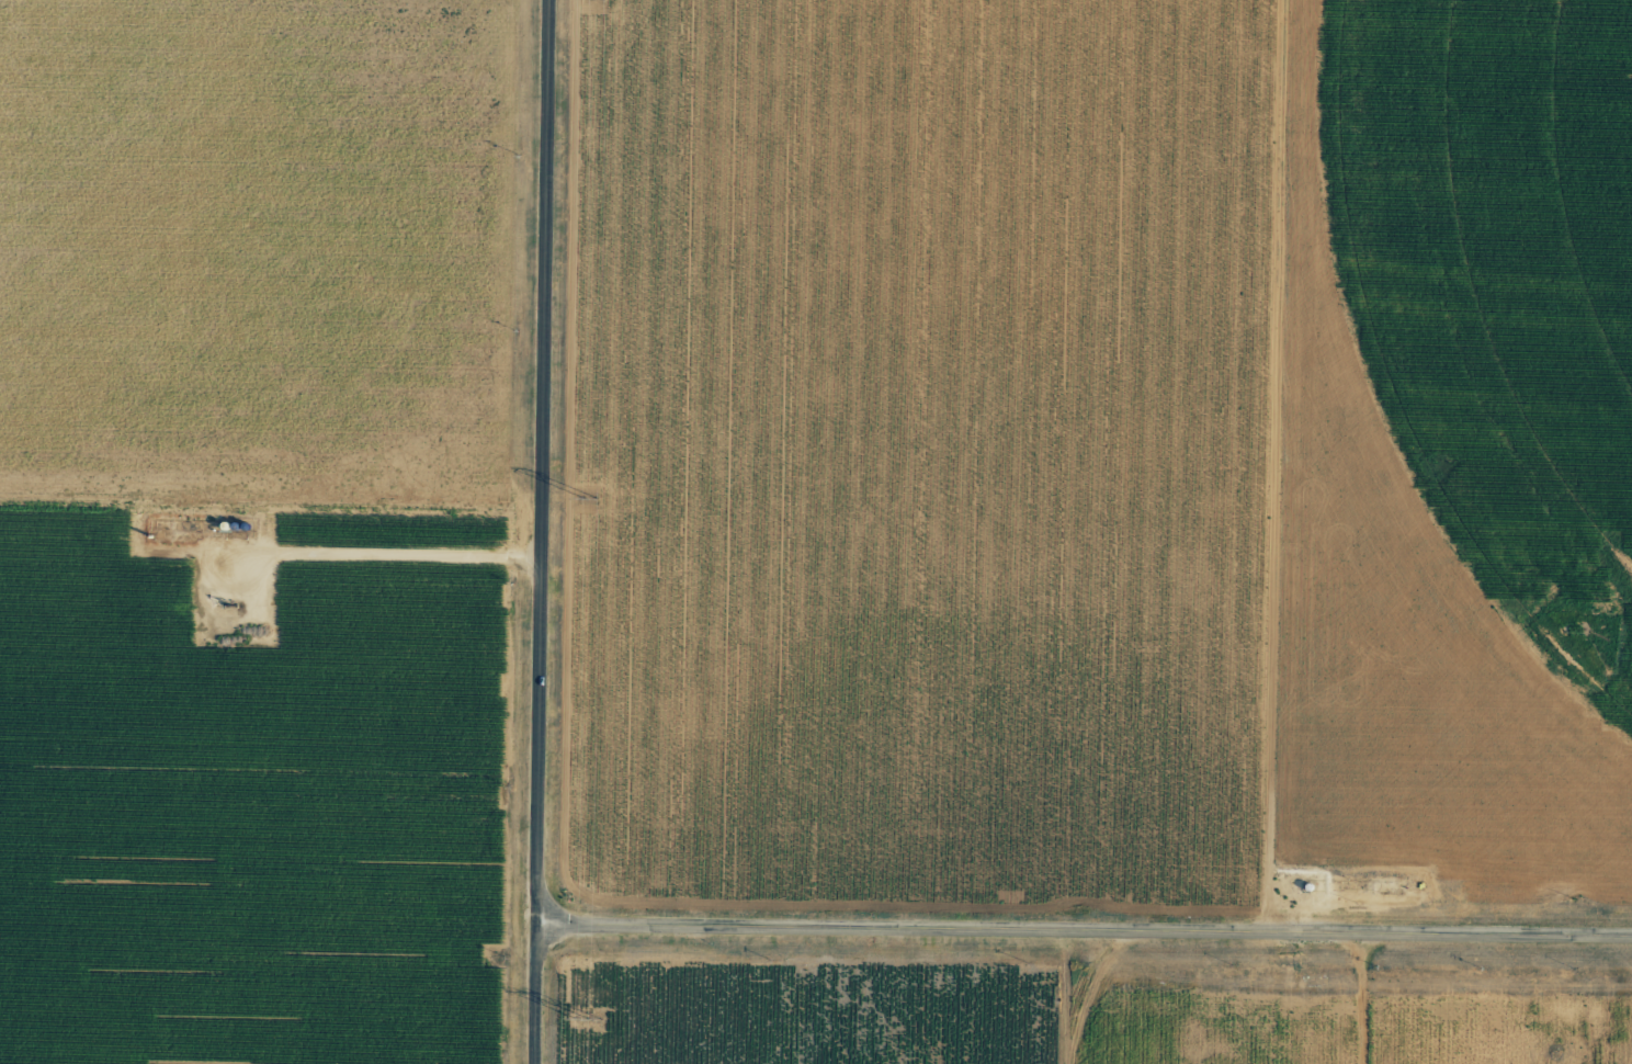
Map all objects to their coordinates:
road: (547, 464)
road: (1265, 467)
power tower: (591, 497)
petroleum well: (235, 599)
petroleum well: (1580, 625)
road: (1086, 932)
road: (539, 996)
power tower: (590, 1017)

